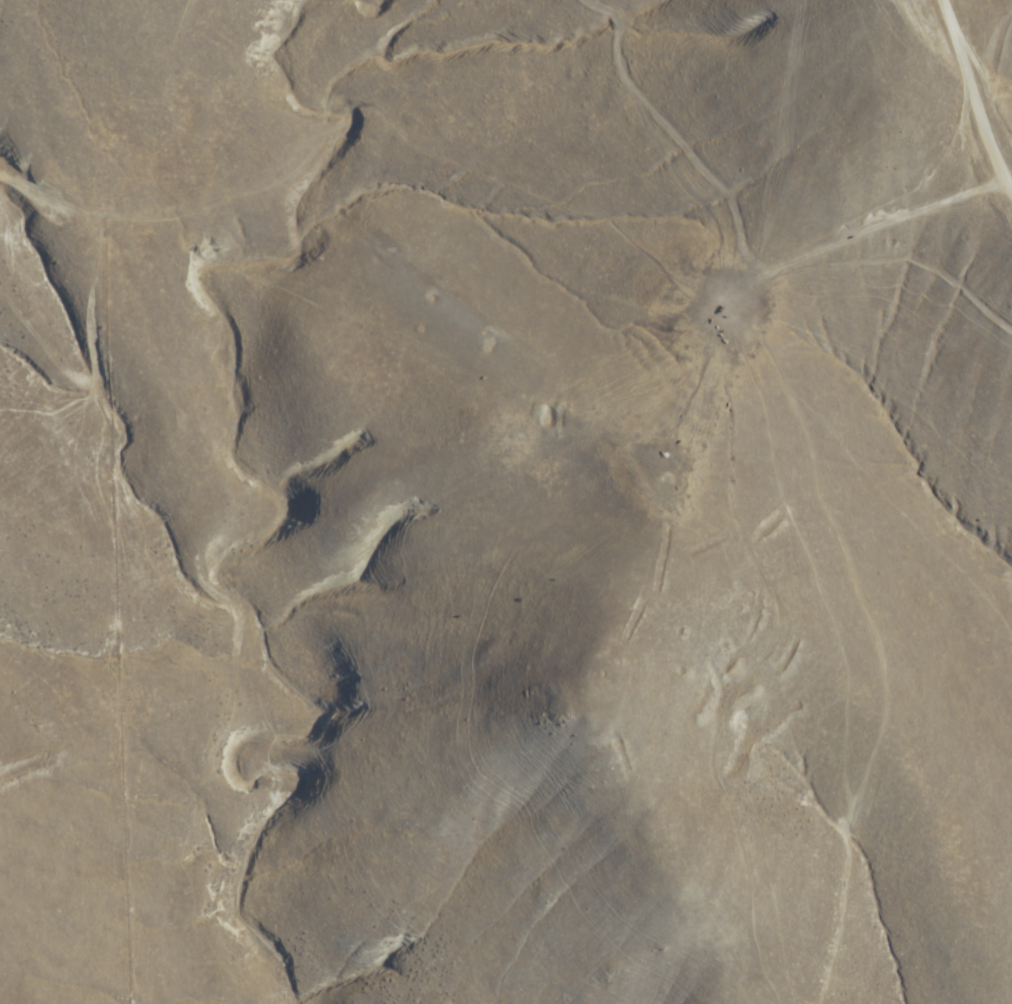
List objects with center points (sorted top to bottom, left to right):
road: (967, 102)
road: (749, 232)

